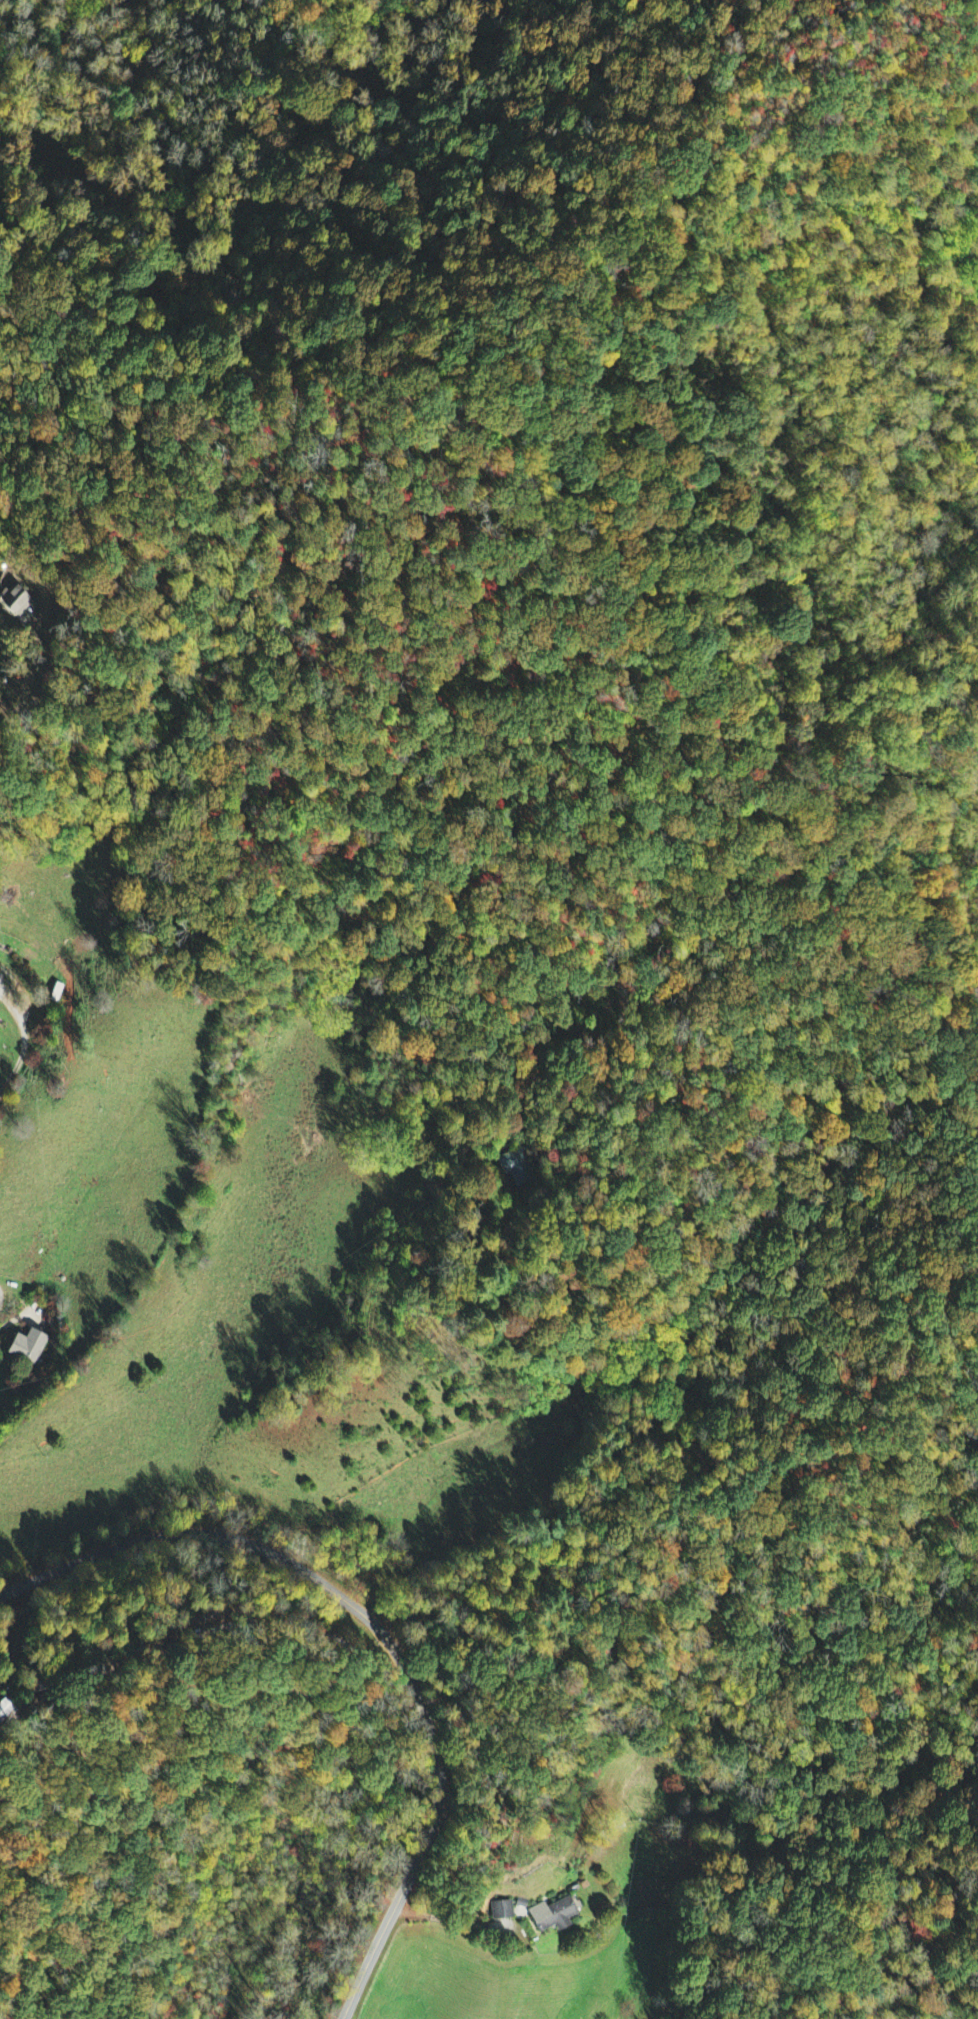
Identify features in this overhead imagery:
road: (23, 1054)
building: (514, 1166)
building: (25, 1348)
road: (376, 1628)
building: (552, 1915)
building: (502, 1918)

